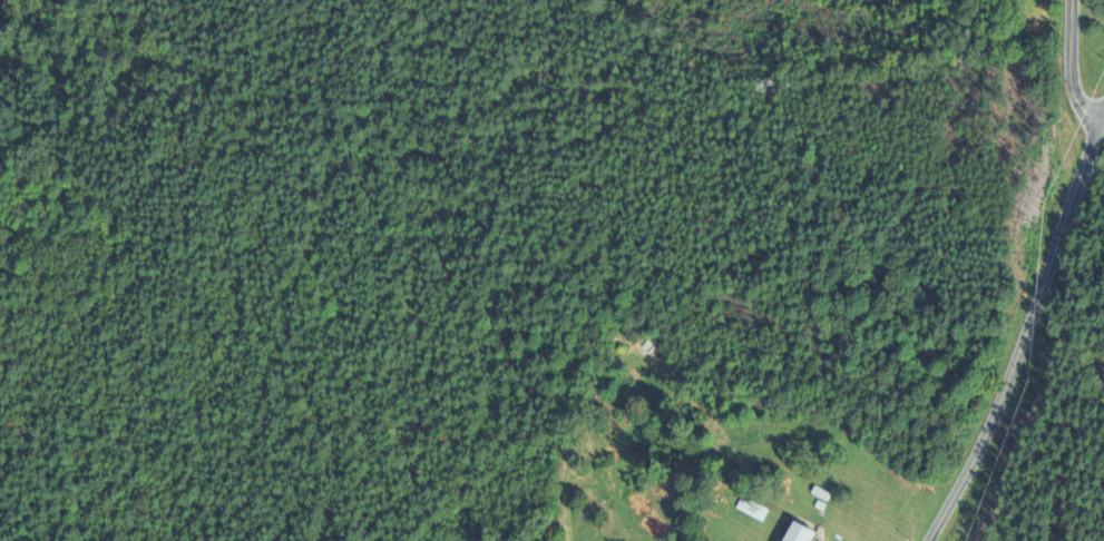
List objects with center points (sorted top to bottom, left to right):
road: (1066, 67)
road: (1092, 165)
road: (1023, 328)
building: (753, 510)
building: (803, 533)

